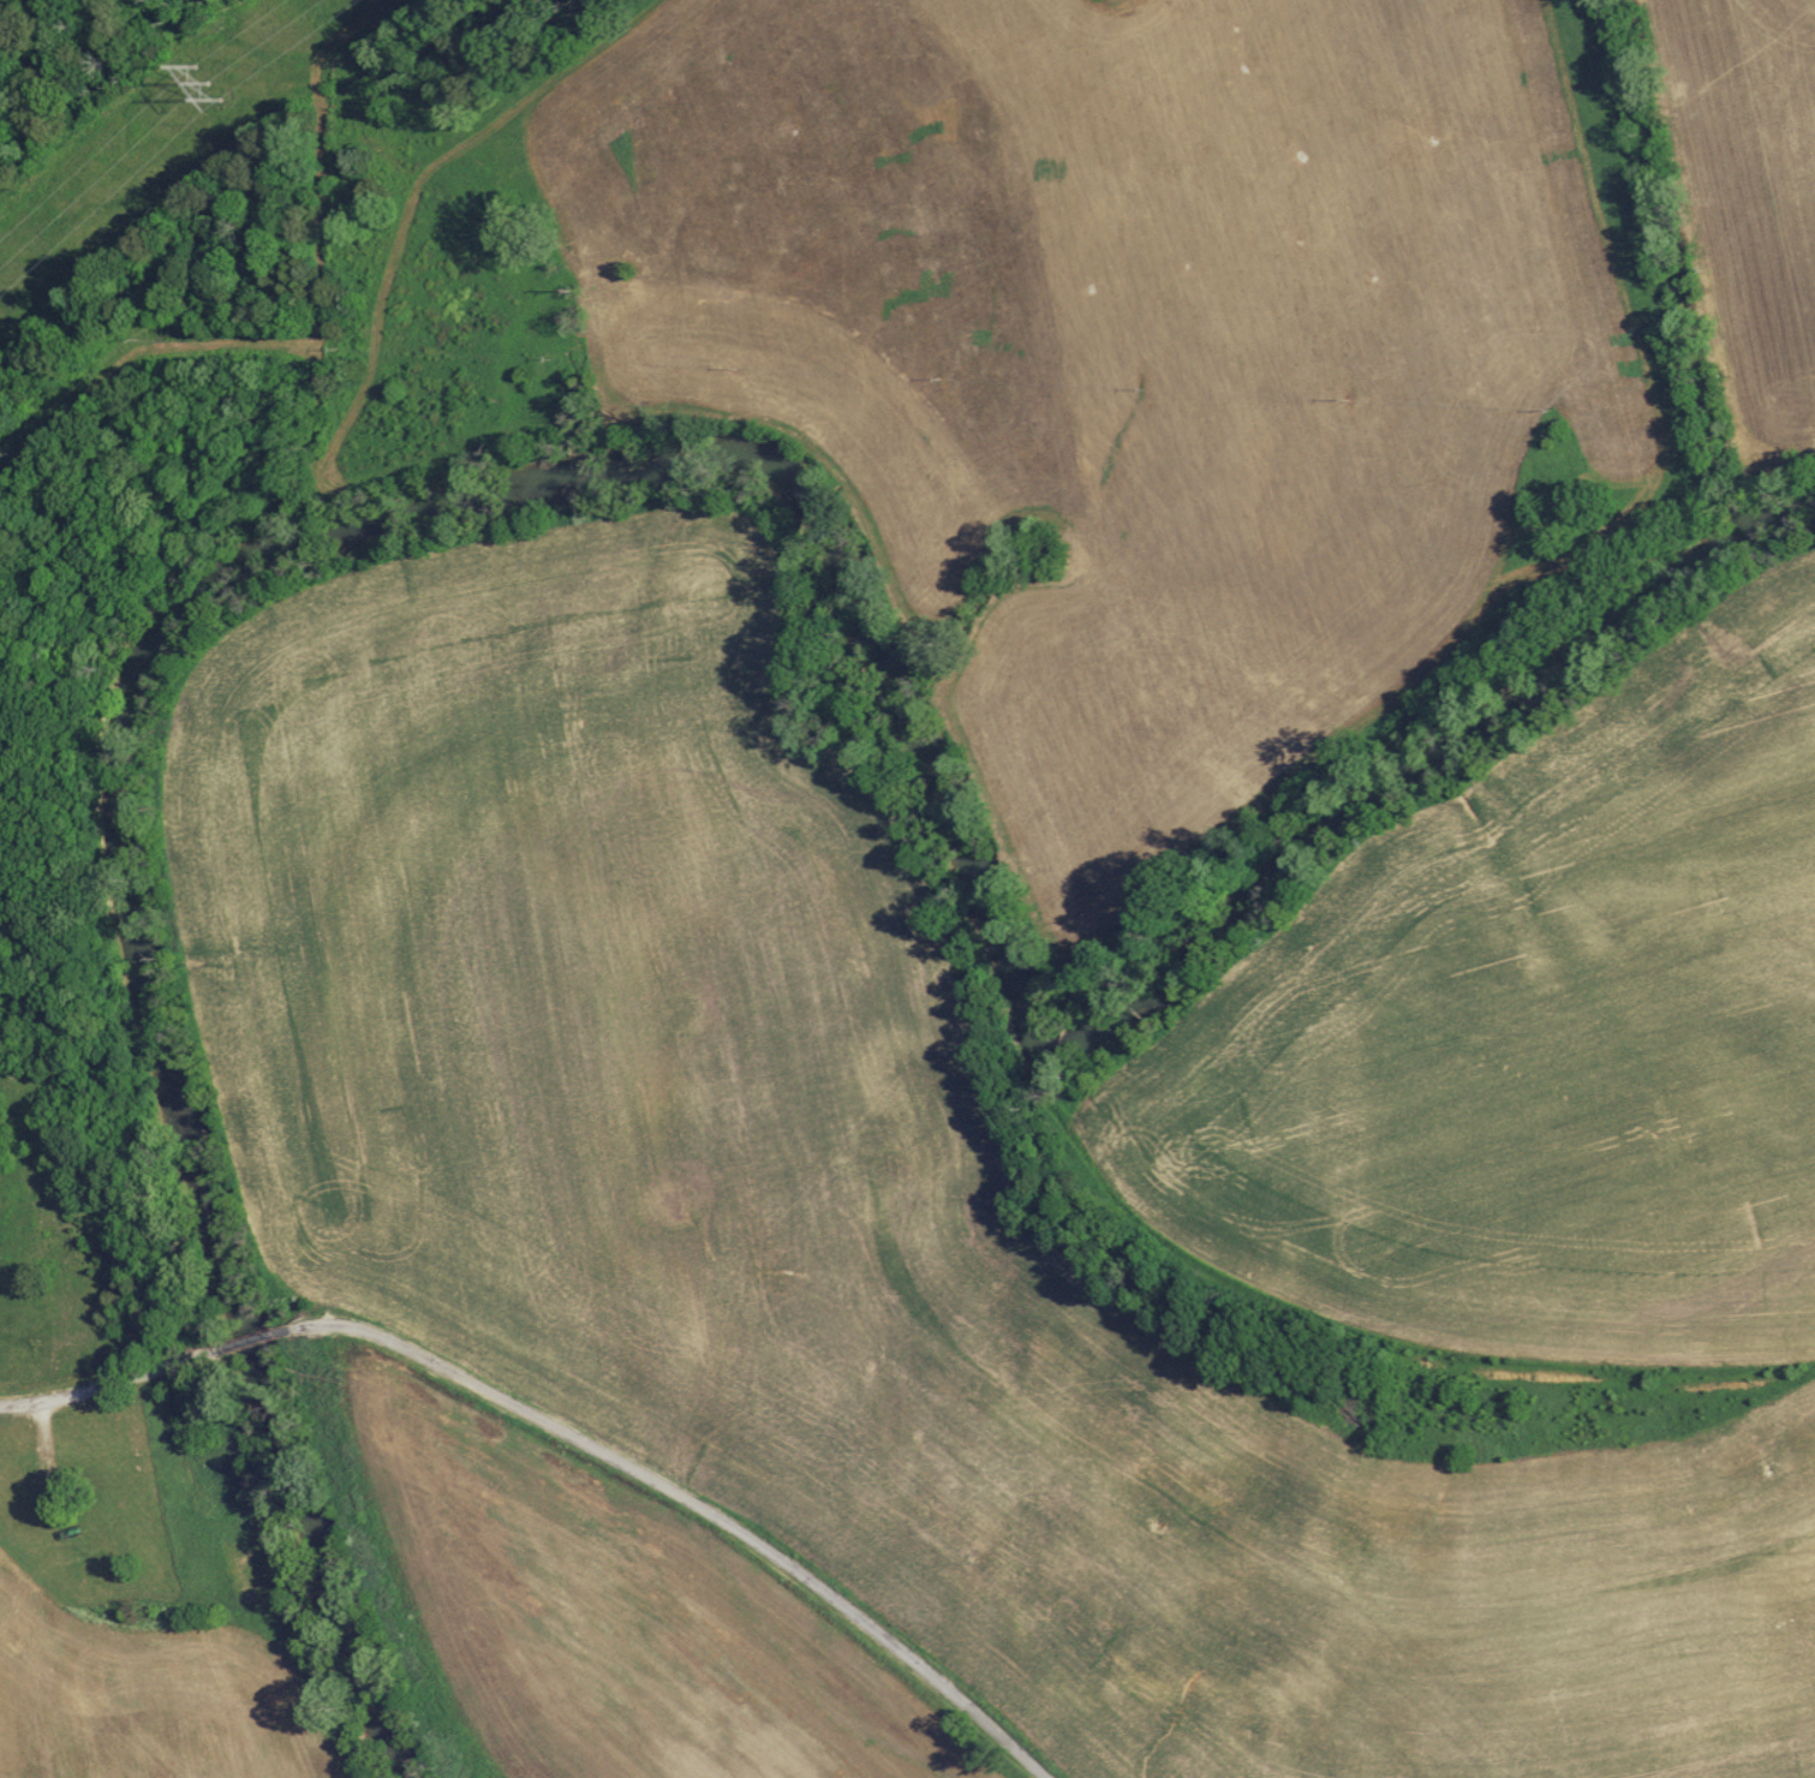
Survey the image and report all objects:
power tower: (210, 85)
road: (975, 135)
river: (661, 463)
road: (255, 1341)
road: (111, 1383)
building: (41, 1473)
building: (95, 1480)
road: (692, 1503)

